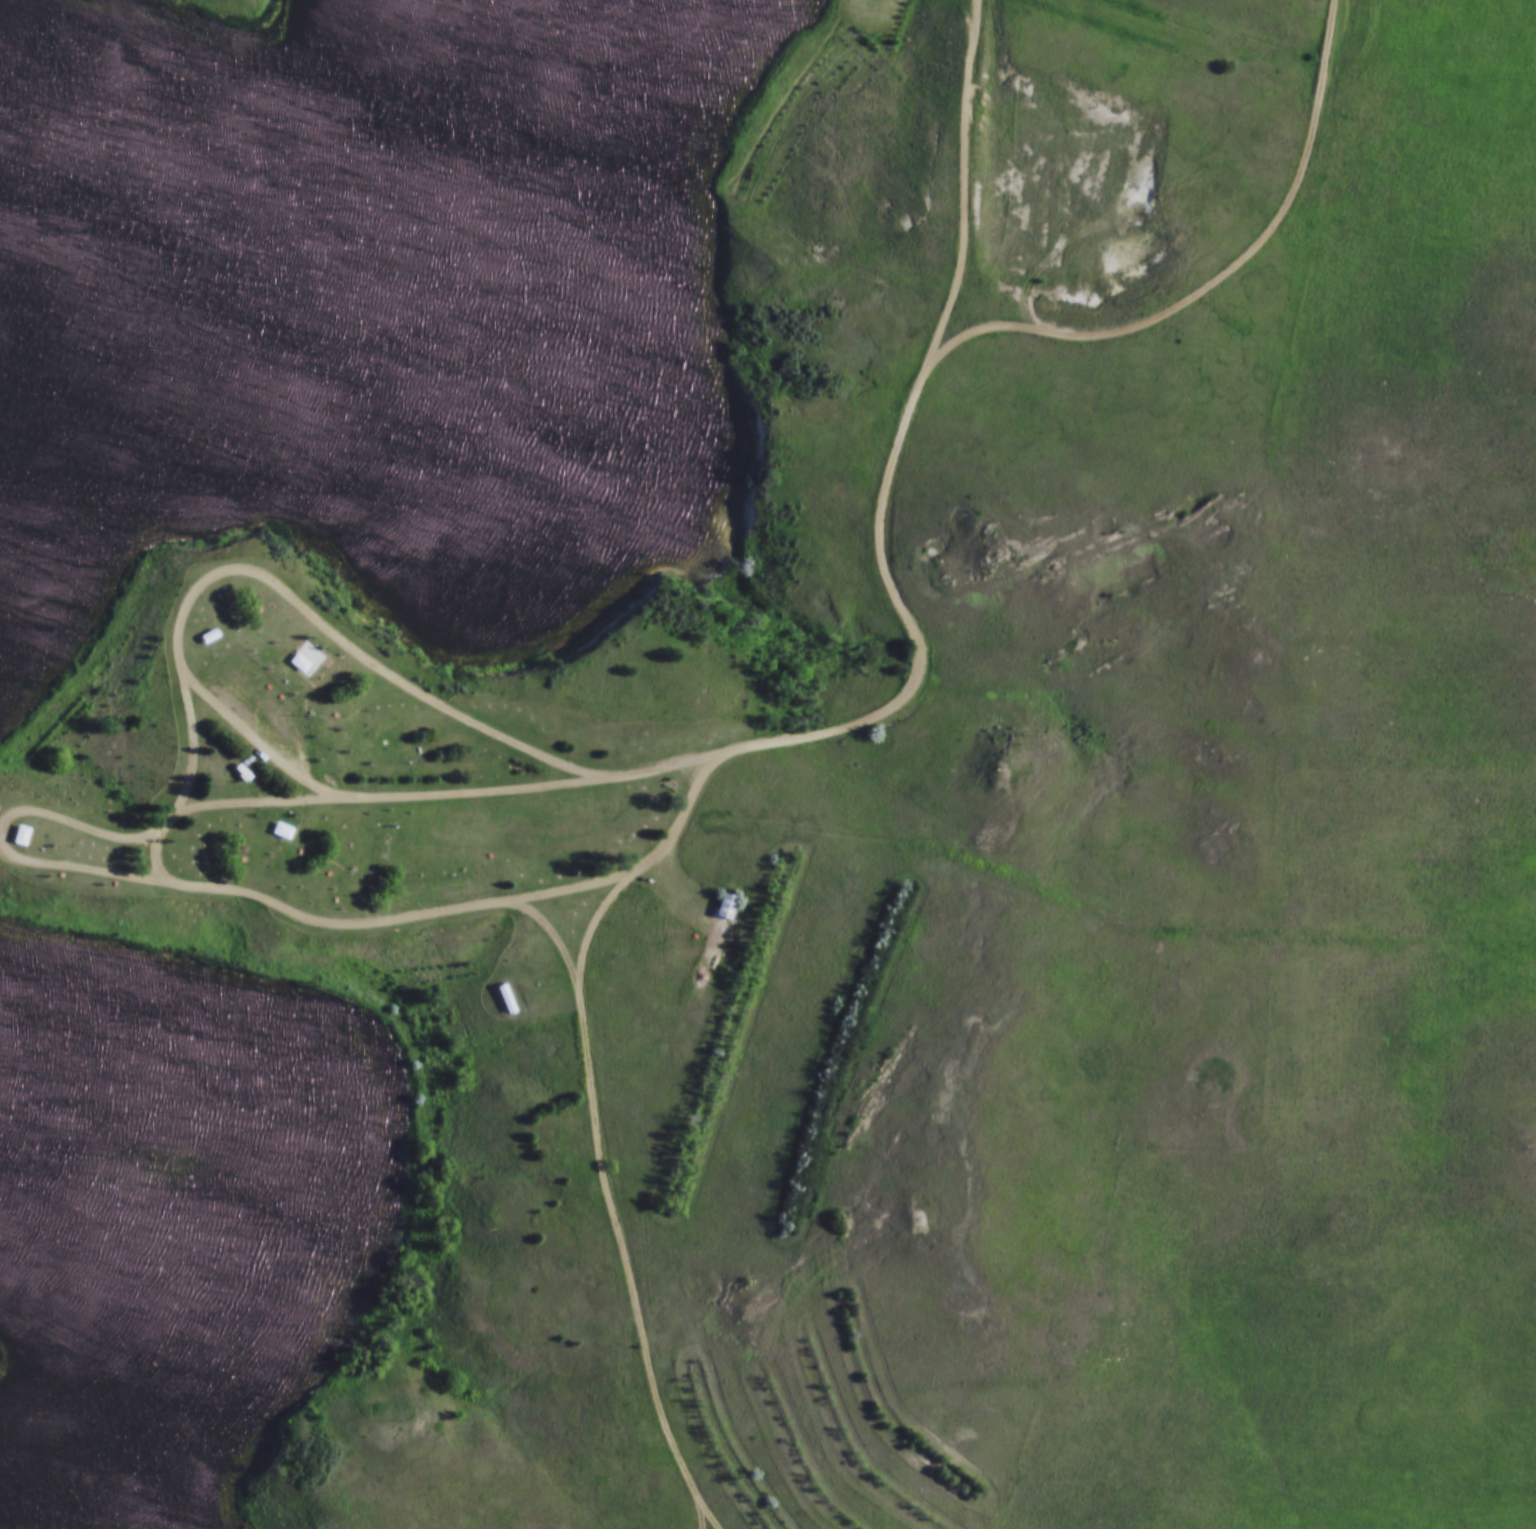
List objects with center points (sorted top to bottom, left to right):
road: (1217, 277)
road: (224, 568)
building: (295, 661)
building: (242, 676)
building: (255, 687)
building: (323, 716)
park: (694, 763)
road: (223, 802)
building: (281, 828)
building: (18, 833)
road: (654, 854)
building: (725, 904)
road: (597, 919)
building: (507, 997)
road: (614, 1203)
road: (705, 1513)

